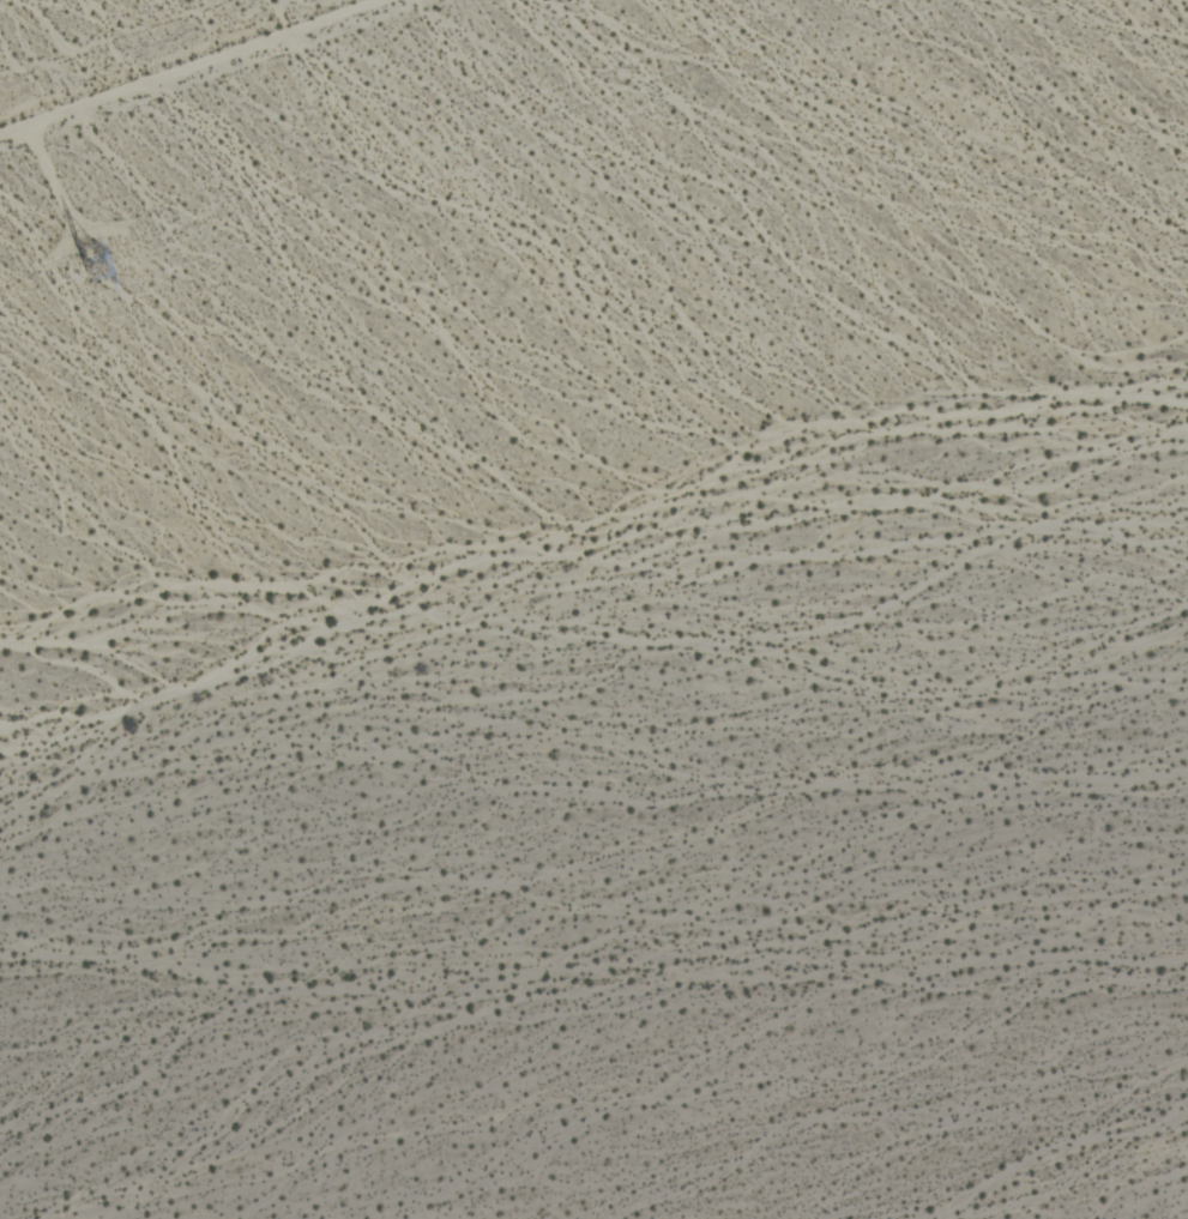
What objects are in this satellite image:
road: (138, 47)
power tower: (113, 255)

